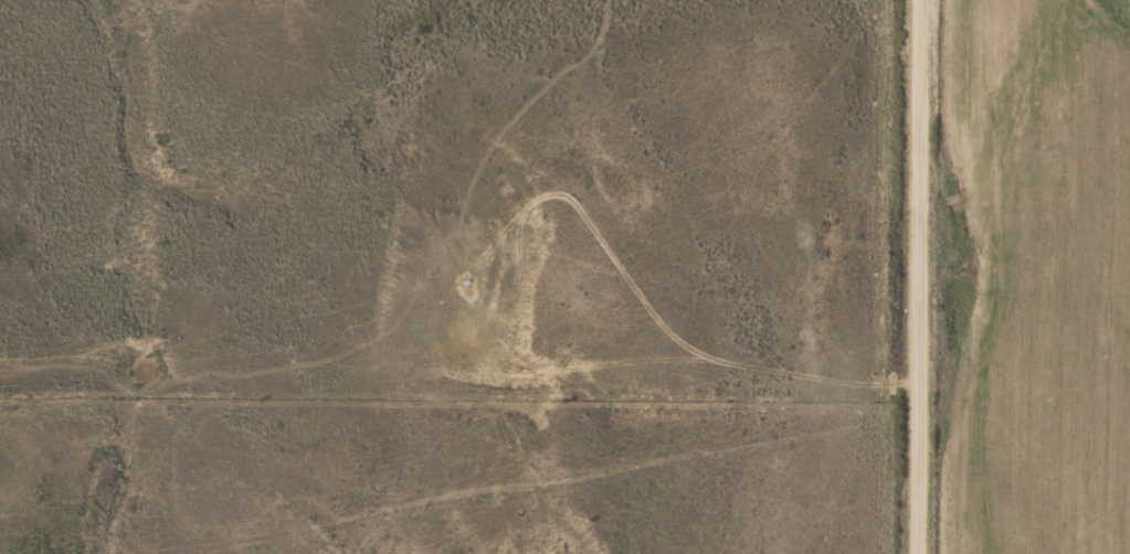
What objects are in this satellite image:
road: (923, 277)

